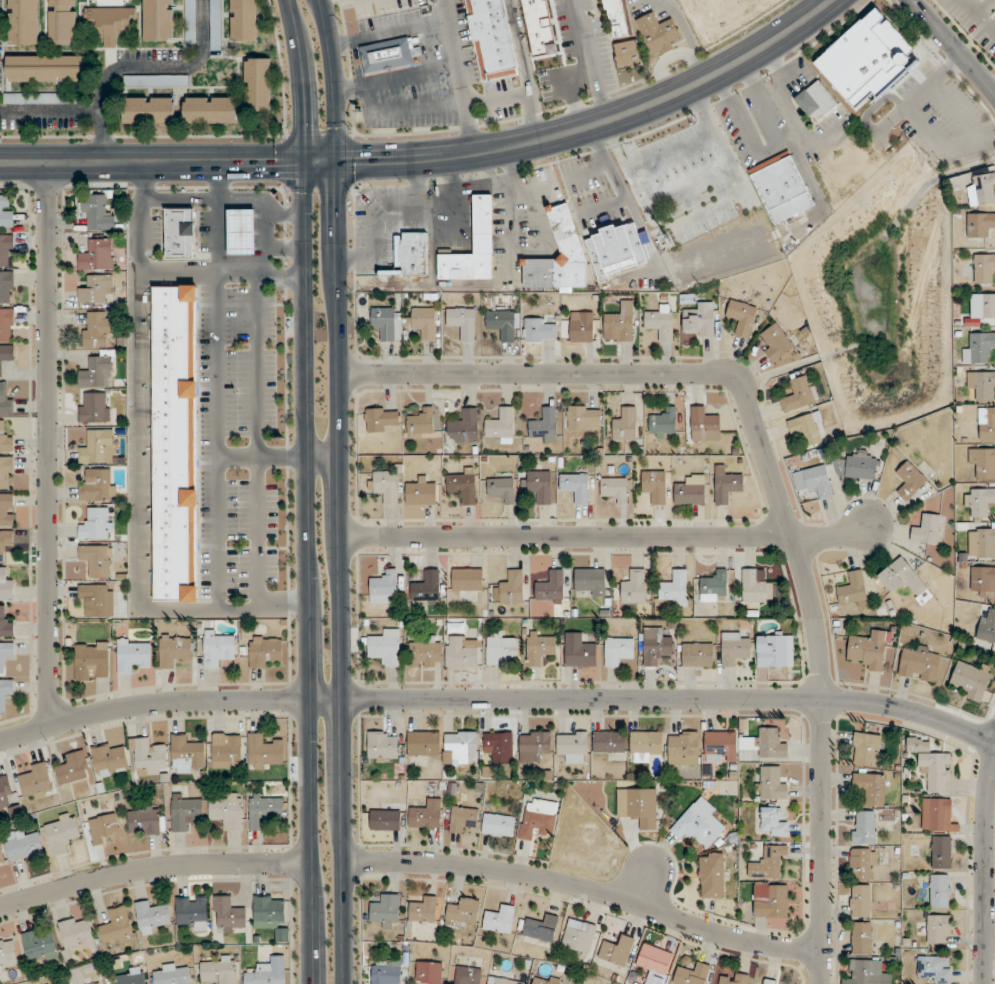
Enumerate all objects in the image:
road: (979, 15)
building: (614, 17)
building: (158, 20)
building: (243, 20)
building: (24, 21)
building: (62, 21)
building: (110, 21)
building: (190, 21)
building: (215, 24)
road: (388, 31)
building: (658, 32)
building: (490, 38)
road: (954, 46)
building: (627, 52)
building: (387, 54)
building: (873, 57)
building: (547, 65)
building: (45, 67)
road: (165, 67)
road: (526, 69)
road: (459, 76)
road: (395, 77)
building: (155, 79)
road: (300, 80)
road: (333, 80)
building: (258, 84)
road: (994, 92)
building: (9, 97)
building: (50, 97)
building: (815, 100)
building: (150, 109)
building: (210, 109)
road: (74, 110)
road: (598, 122)
traffic signals: (301, 124)
road: (319, 162)
traffic signals: (362, 162)
road: (150, 163)
traffic signals: (275, 163)
building: (667, 176)
road: (142, 180)
building: (781, 186)
building: (982, 189)
road: (624, 196)
traffic signals: (337, 201)
building: (373, 207)
building: (6, 210)
building: (96, 213)
road: (285, 213)
road: (218, 216)
building: (980, 224)
building: (565, 230)
building: (242, 231)
building: (180, 233)
building: (473, 246)
road: (285, 247)
building: (6, 249)
building: (615, 249)
building: (412, 252)
building: (96, 254)
building: (984, 267)
road: (197, 270)
road: (280, 277)
building: (6, 286)
building: (95, 289)
building: (987, 305)
building: (740, 316)
building: (699, 319)
building: (387, 321)
building: (423, 321)
building: (660, 321)
building: (461, 322)
building: (619, 322)
building: (501, 323)
building: (6, 324)
building: (581, 326)
building: (96, 329)
building: (539, 329)
building: (776, 342)
building: (979, 348)
building: (5, 355)
building: (97, 370)
building: (982, 383)
building: (797, 393)
building: (5, 400)
building: (94, 406)
building: (583, 417)
building: (380, 418)
building: (703, 420)
building: (421, 422)
building: (663, 423)
building: (986, 423)
building: (500, 424)
building: (543, 424)
building: (625, 424)
building: (463, 425)
building: (806, 427)
building: (6, 439)
road: (215, 439)
road: (47, 443)
building: (175, 443)
building: (97, 446)
road: (259, 456)
road: (321, 456)
building: (983, 461)
building: (857, 466)
building: (6, 472)
building: (909, 479)
building: (813, 480)
road: (774, 482)
building: (386, 484)
building: (540, 484)
building: (654, 484)
building: (97, 485)
building: (463, 485)
building: (573, 485)
building: (726, 485)
building: (502, 488)
building: (615, 488)
building: (690, 490)
building: (420, 492)
building: (980, 501)
building: (7, 509)
building: (96, 523)
building: (927, 528)
road: (605, 535)
building: (985, 542)
building: (6, 543)
building: (97, 560)
road: (304, 573)
road: (339, 573)
building: (901, 577)
building: (467, 578)
building: (590, 580)
building: (983, 581)
building: (6, 585)
building: (426, 585)
building: (550, 585)
building: (634, 586)
building: (714, 586)
building: (755, 586)
building: (384, 587)
building: (512, 587)
building: (674, 587)
building: (852, 589)
building: (96, 598)
road: (281, 601)
road: (145, 608)
building: (987, 626)
building: (655, 645)
building: (386, 646)
building: (218, 647)
building: (539, 647)
building: (500, 648)
building: (734, 648)
building: (173, 649)
building: (579, 649)
building: (617, 649)
building: (775, 649)
building: (869, 649)
building: (265, 650)
building: (461, 651)
building: (425, 652)
building: (698, 654)
building: (133, 655)
building: (92, 660)
building: (919, 662)
building: (970, 678)
building: (6, 691)
road: (499, 699)
building: (609, 741)
building: (423, 742)
building: (572, 742)
building: (769, 742)
building: (461, 744)
building: (644, 744)
building: (499, 745)
building: (533, 745)
building: (381, 746)
building: (682, 746)
building: (720, 746)
building: (865, 748)
building: (226, 749)
building: (265, 751)
building: (186, 754)
building: (147, 755)
building: (109, 759)
building: (73, 767)
building: (936, 770)
building: (36, 781)
building: (769, 783)
building: (870, 787)
building: (5, 793)
building: (637, 806)
building: (264, 808)
building: (227, 811)
building: (185, 812)
building: (426, 814)
building: (937, 815)
building: (385, 818)
building: (462, 818)
building: (538, 818)
building: (143, 820)
building: (773, 821)
building: (698, 823)
building: (498, 824)
building: (863, 826)
building: (102, 827)
building: (61, 832)
building: (24, 844)
building: (940, 851)
building: (1, 854)
building: (767, 861)
building: (862, 863)
road: (151, 867)
road: (985, 867)
building: (711, 874)
road: (643, 881)
road: (585, 887)
building: (939, 890)
building: (860, 900)
building: (772, 901)
building: (423, 909)
building: (385, 910)
building: (191, 911)
building: (268, 911)
building: (463, 912)
building: (229, 913)
building: (152, 917)
building: (499, 918)
building: (116, 926)
building: (541, 927)
building: (939, 928)
building: (75, 933)
building: (578, 935)
building: (861, 937)
building: (39, 946)
building: (616, 949)
building: (7, 953)
building: (653, 963)
building: (934, 968)
building: (219, 969)
building: (386, 972)
building: (429, 972)
building: (172, 973)
building: (868, 973)
building: (266, 974)
building: (691, 974)
building: (468, 975)
building: (131, 976)
building: (545, 979)
building: (735, 979)
building: (501, 980)
building: (83, 982)
building: (770, 982)

